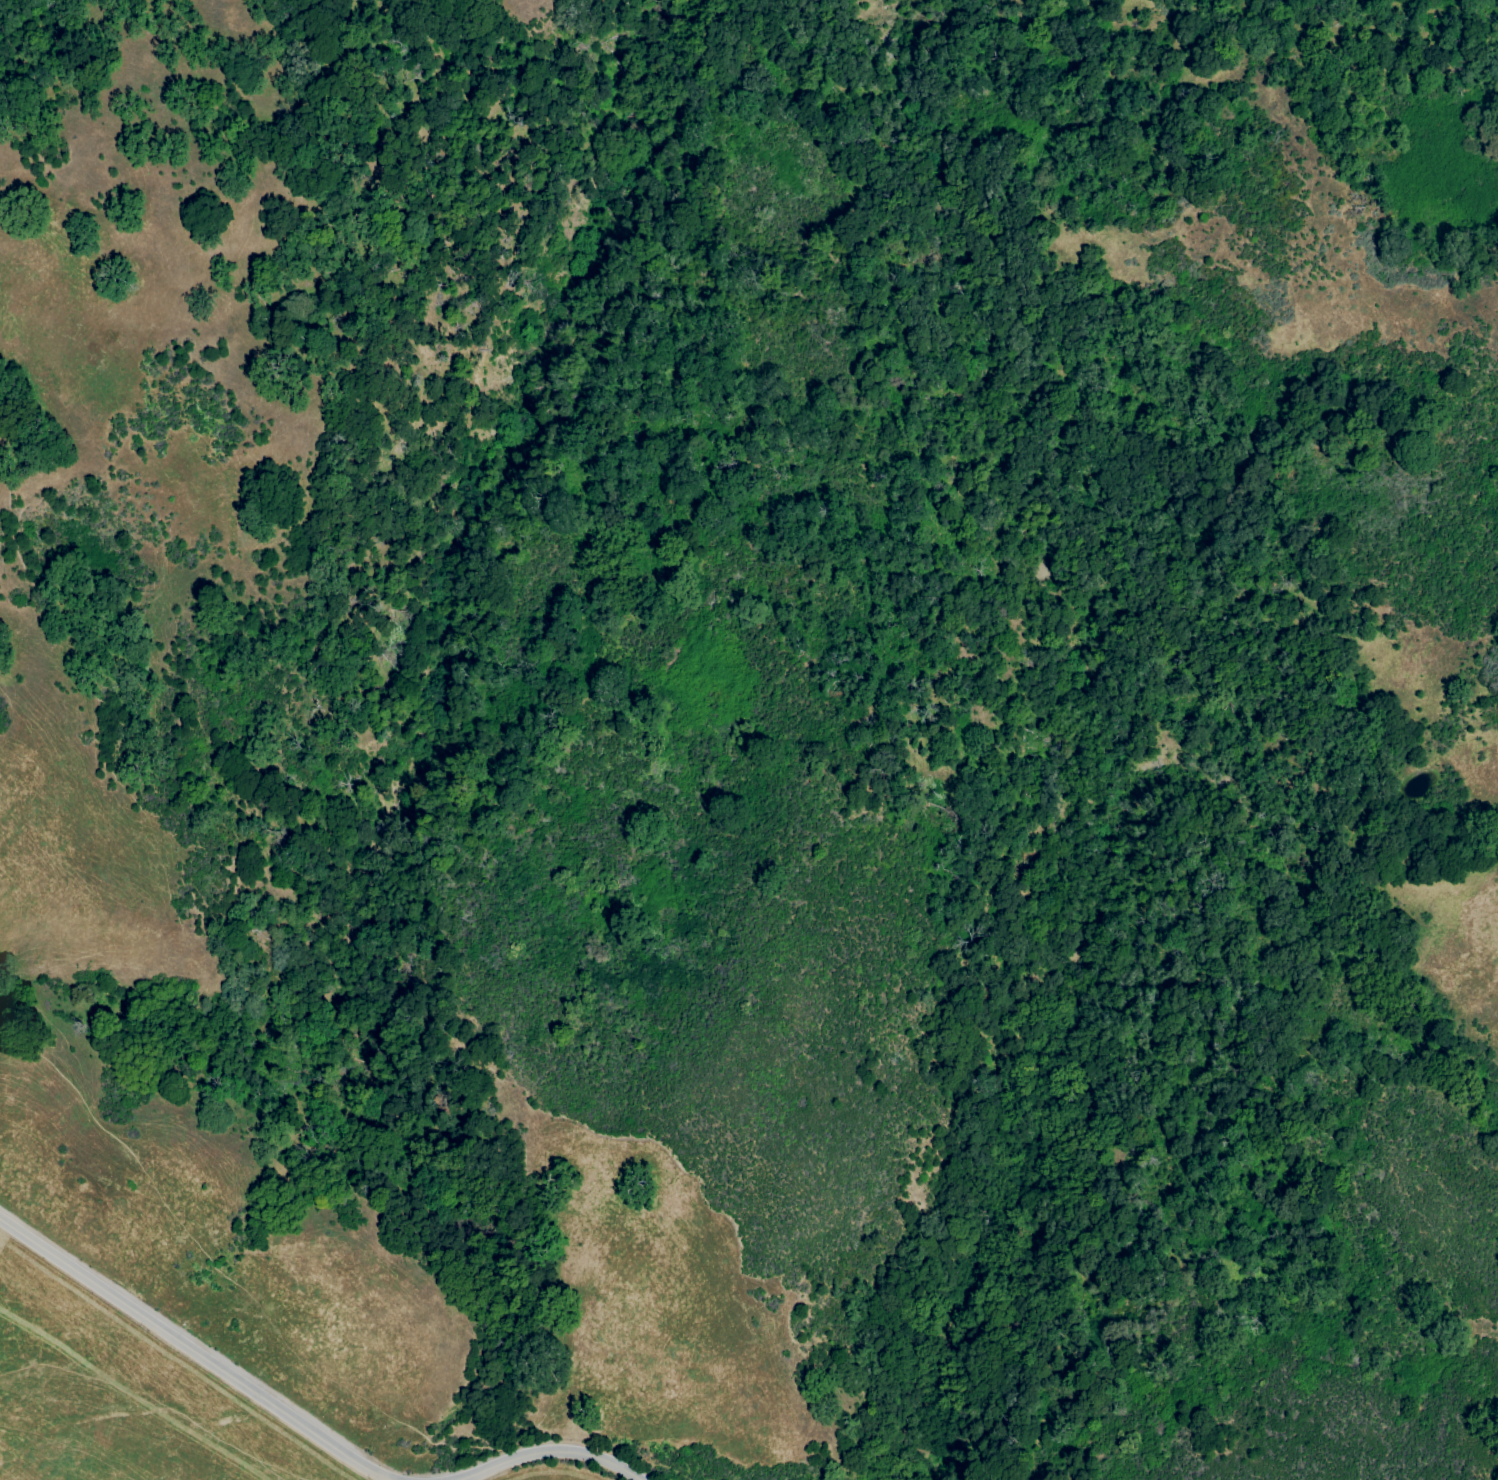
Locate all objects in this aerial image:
road: (194, 1353)
road: (549, 1452)

